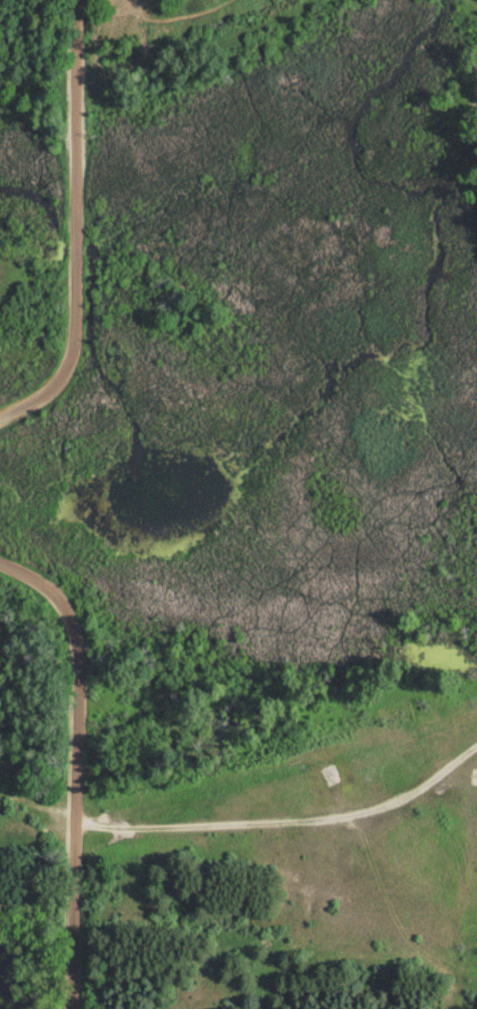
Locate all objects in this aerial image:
road: (472, 1)
road: (203, 52)
road: (82, 230)
road: (72, 767)
road: (248, 845)

